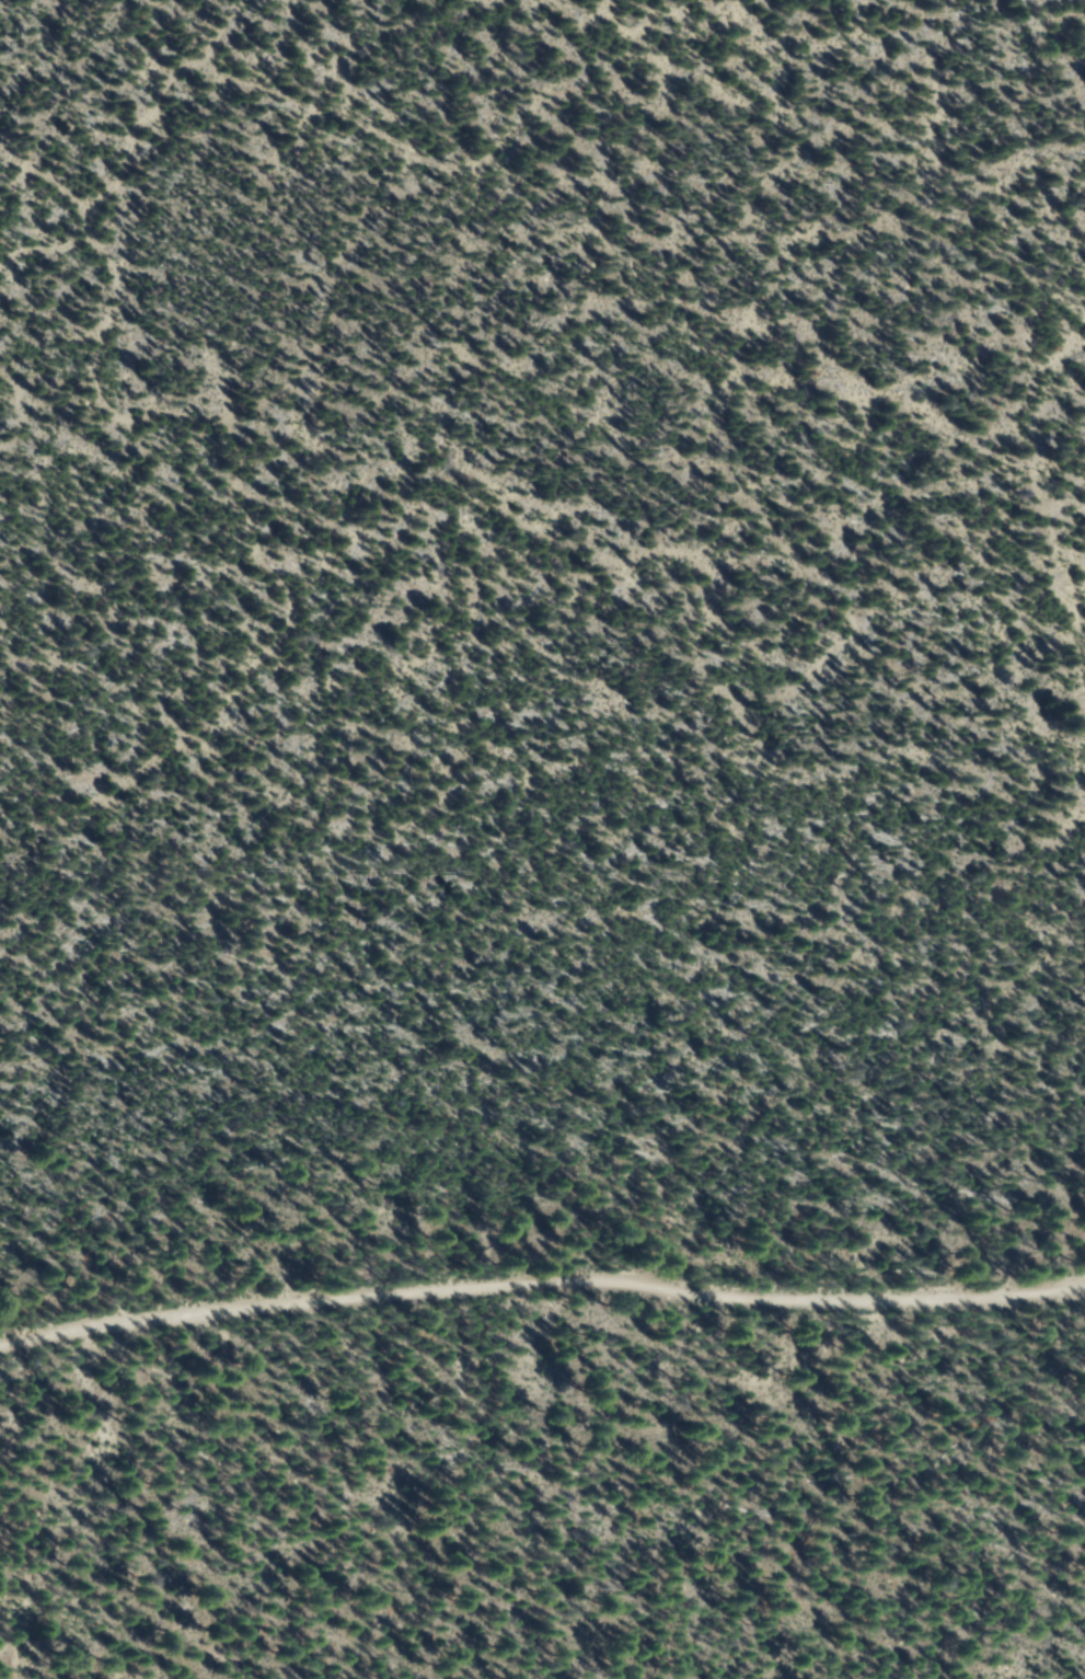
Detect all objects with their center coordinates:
road: (542, 1284)

